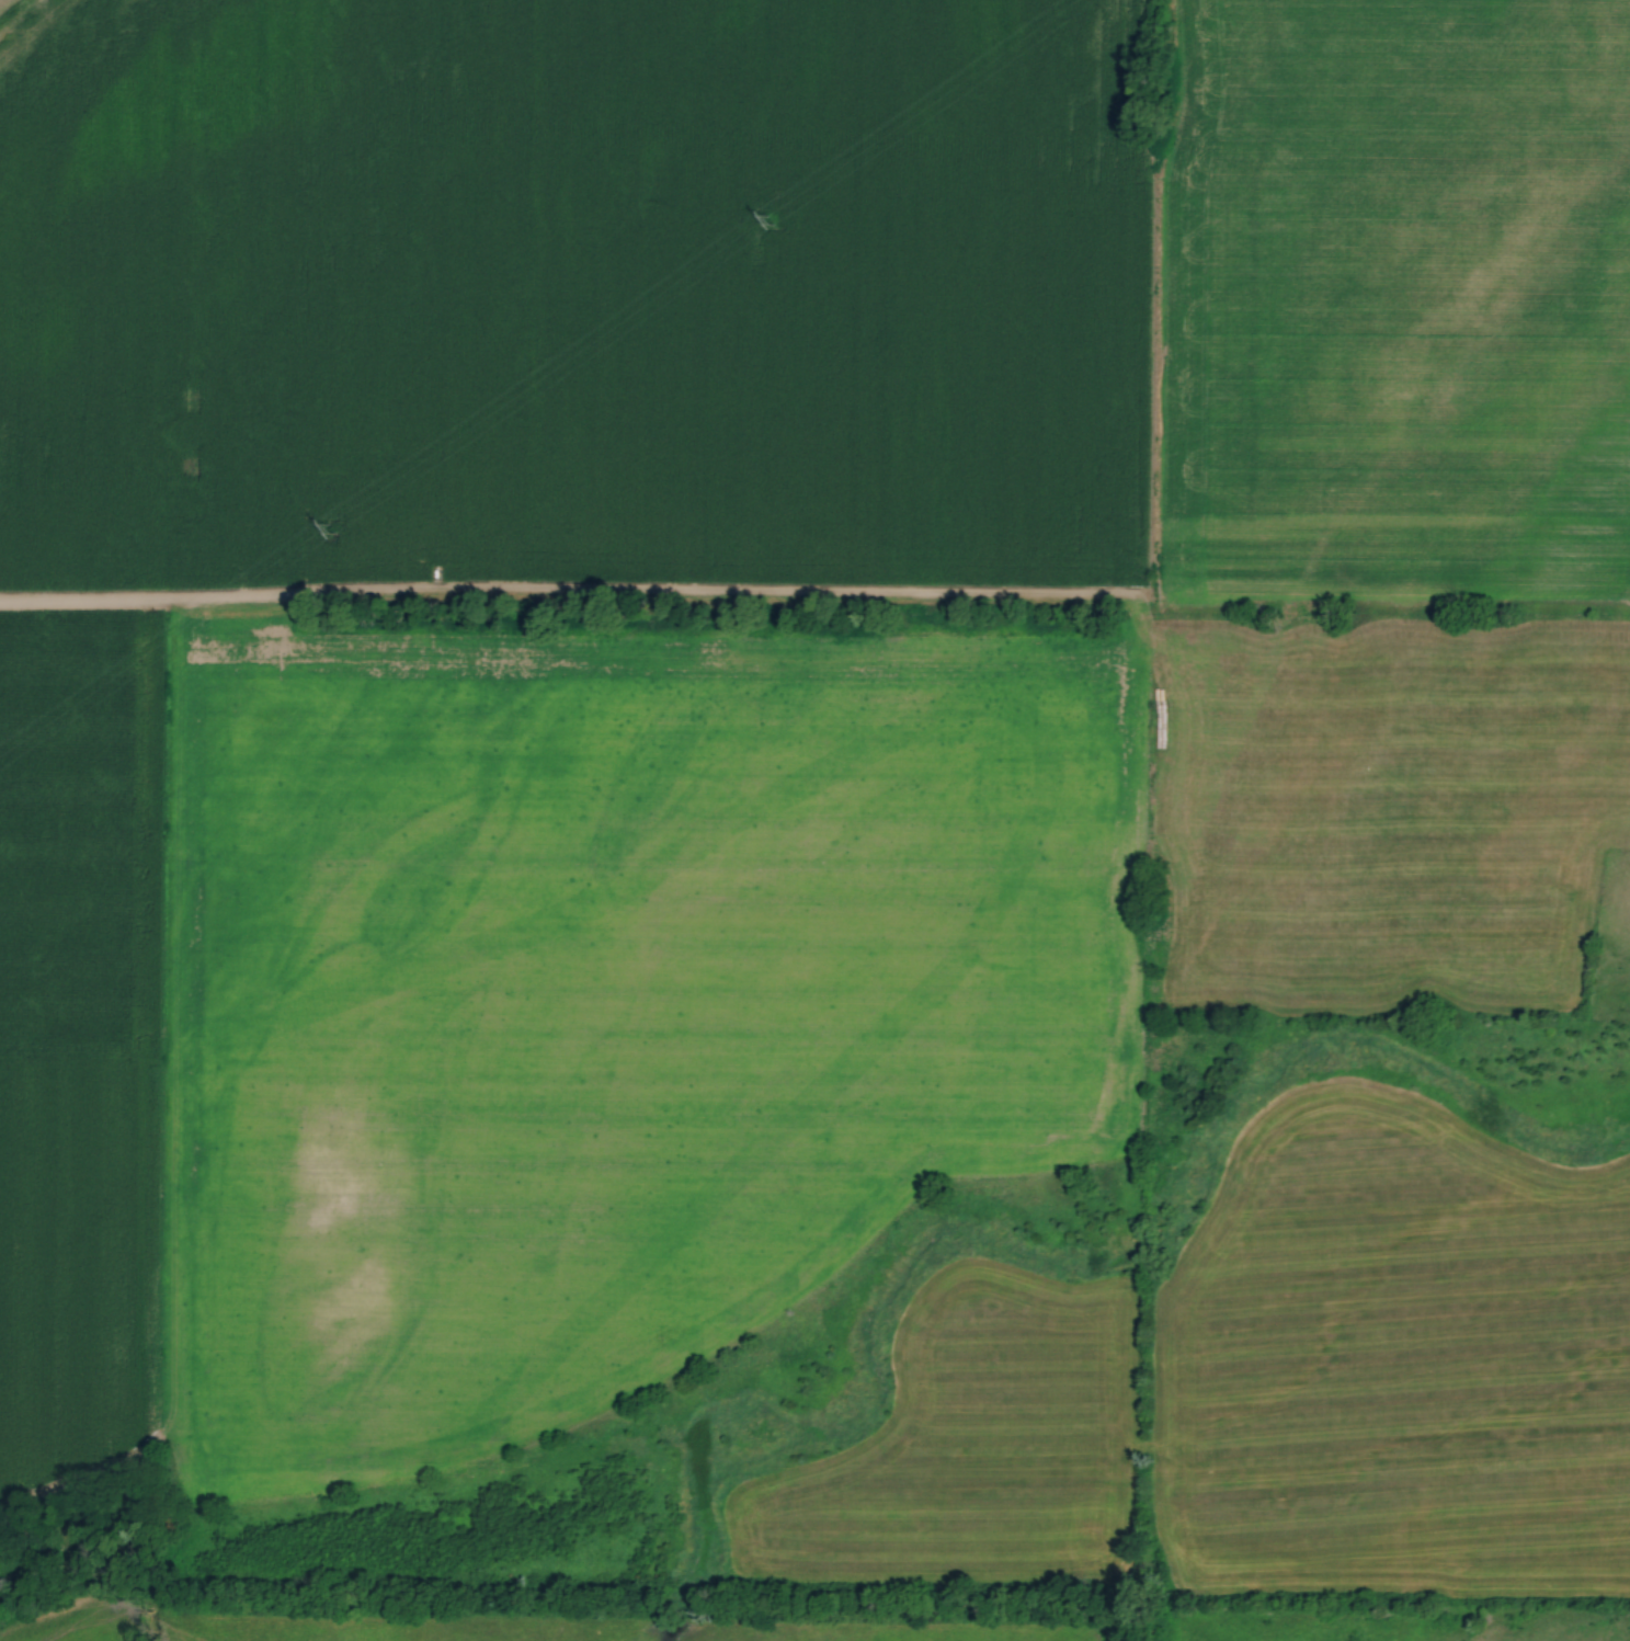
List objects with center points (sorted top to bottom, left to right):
power tower: (766, 219)
power tower: (329, 529)

